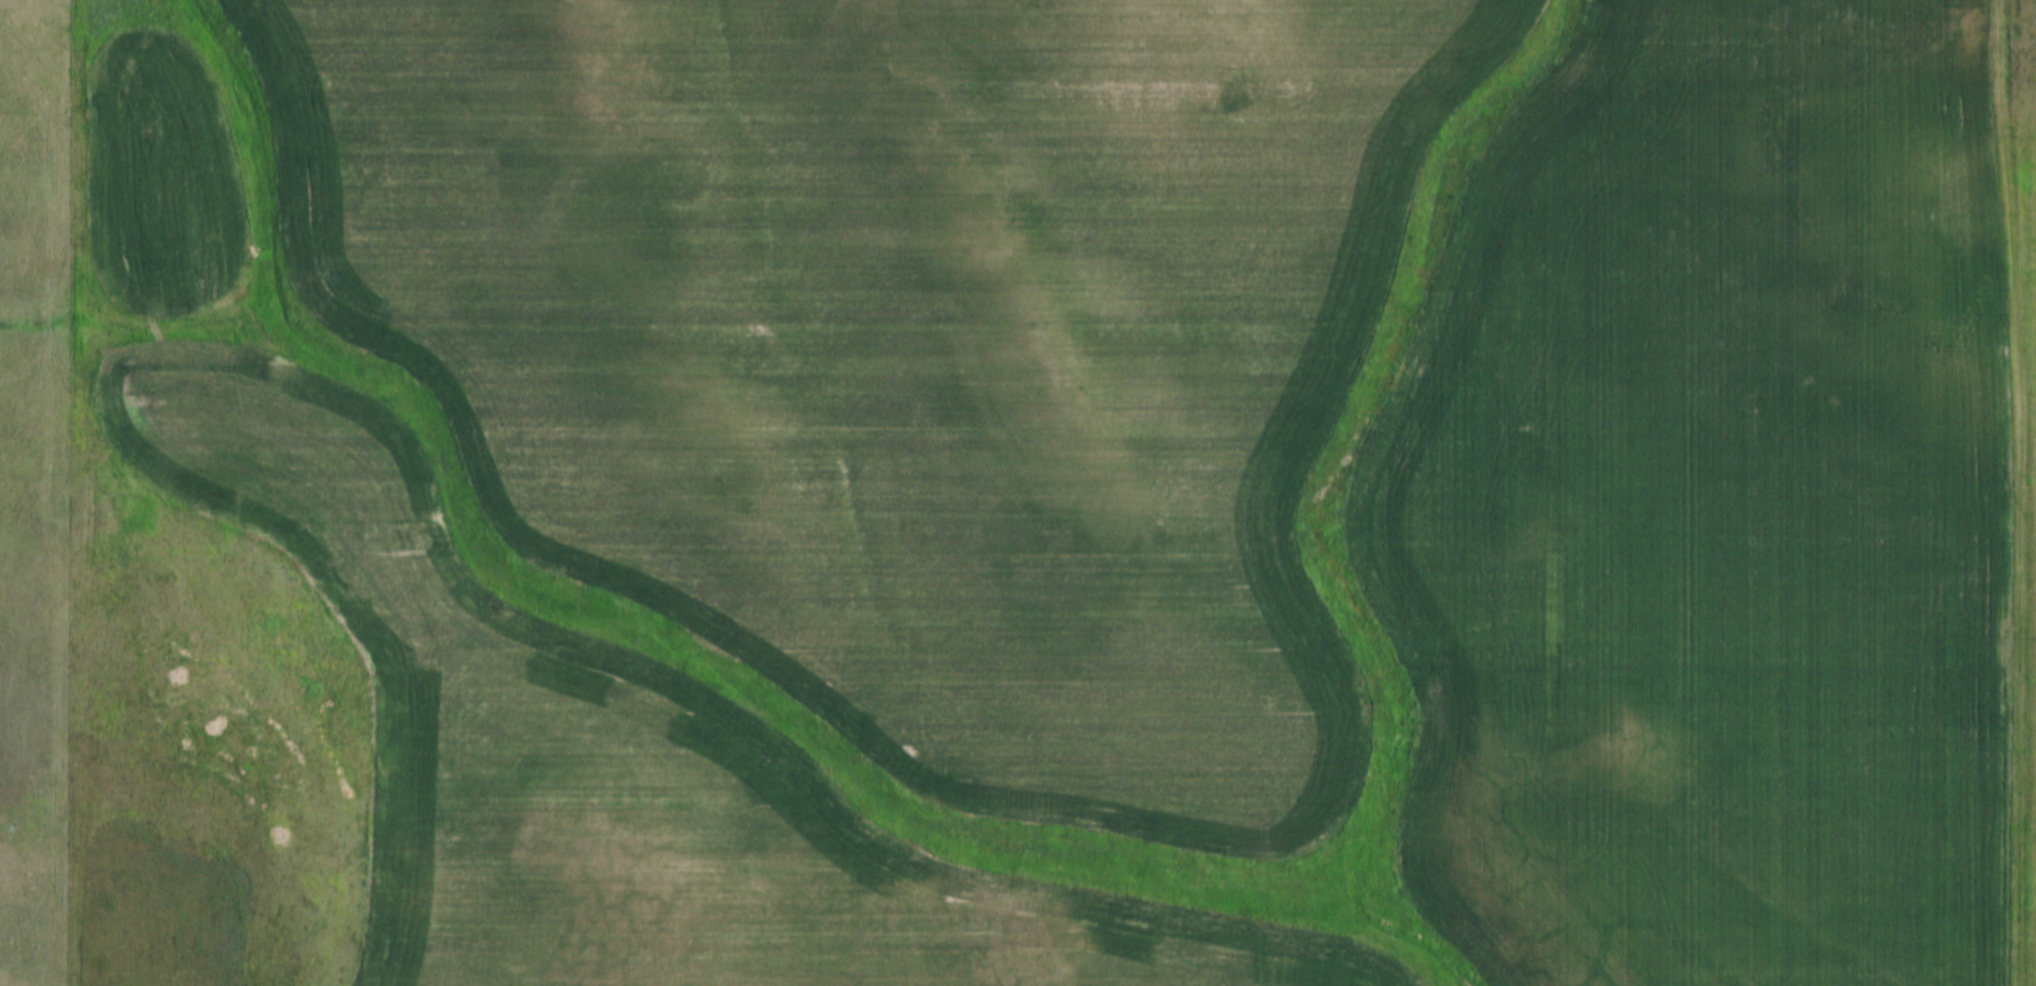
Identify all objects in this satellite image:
road: (128, 4)

